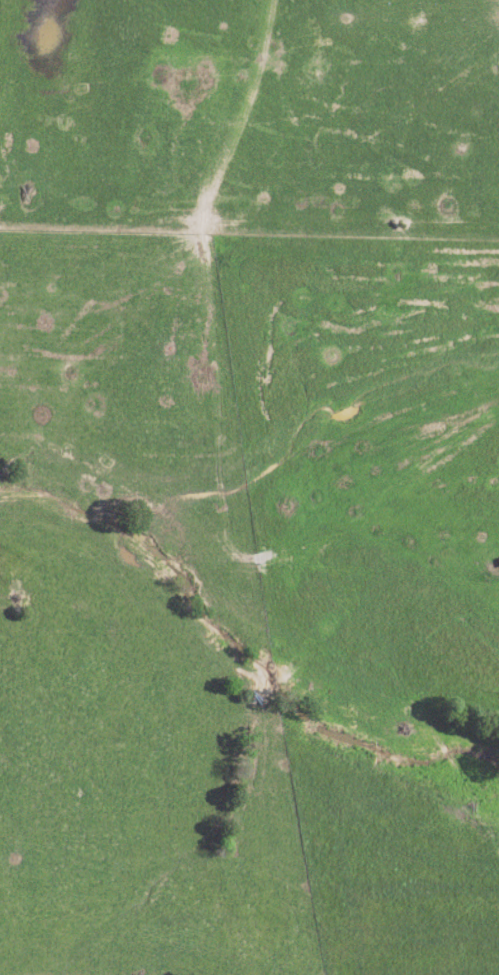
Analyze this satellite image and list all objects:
crop: (252, 116)

